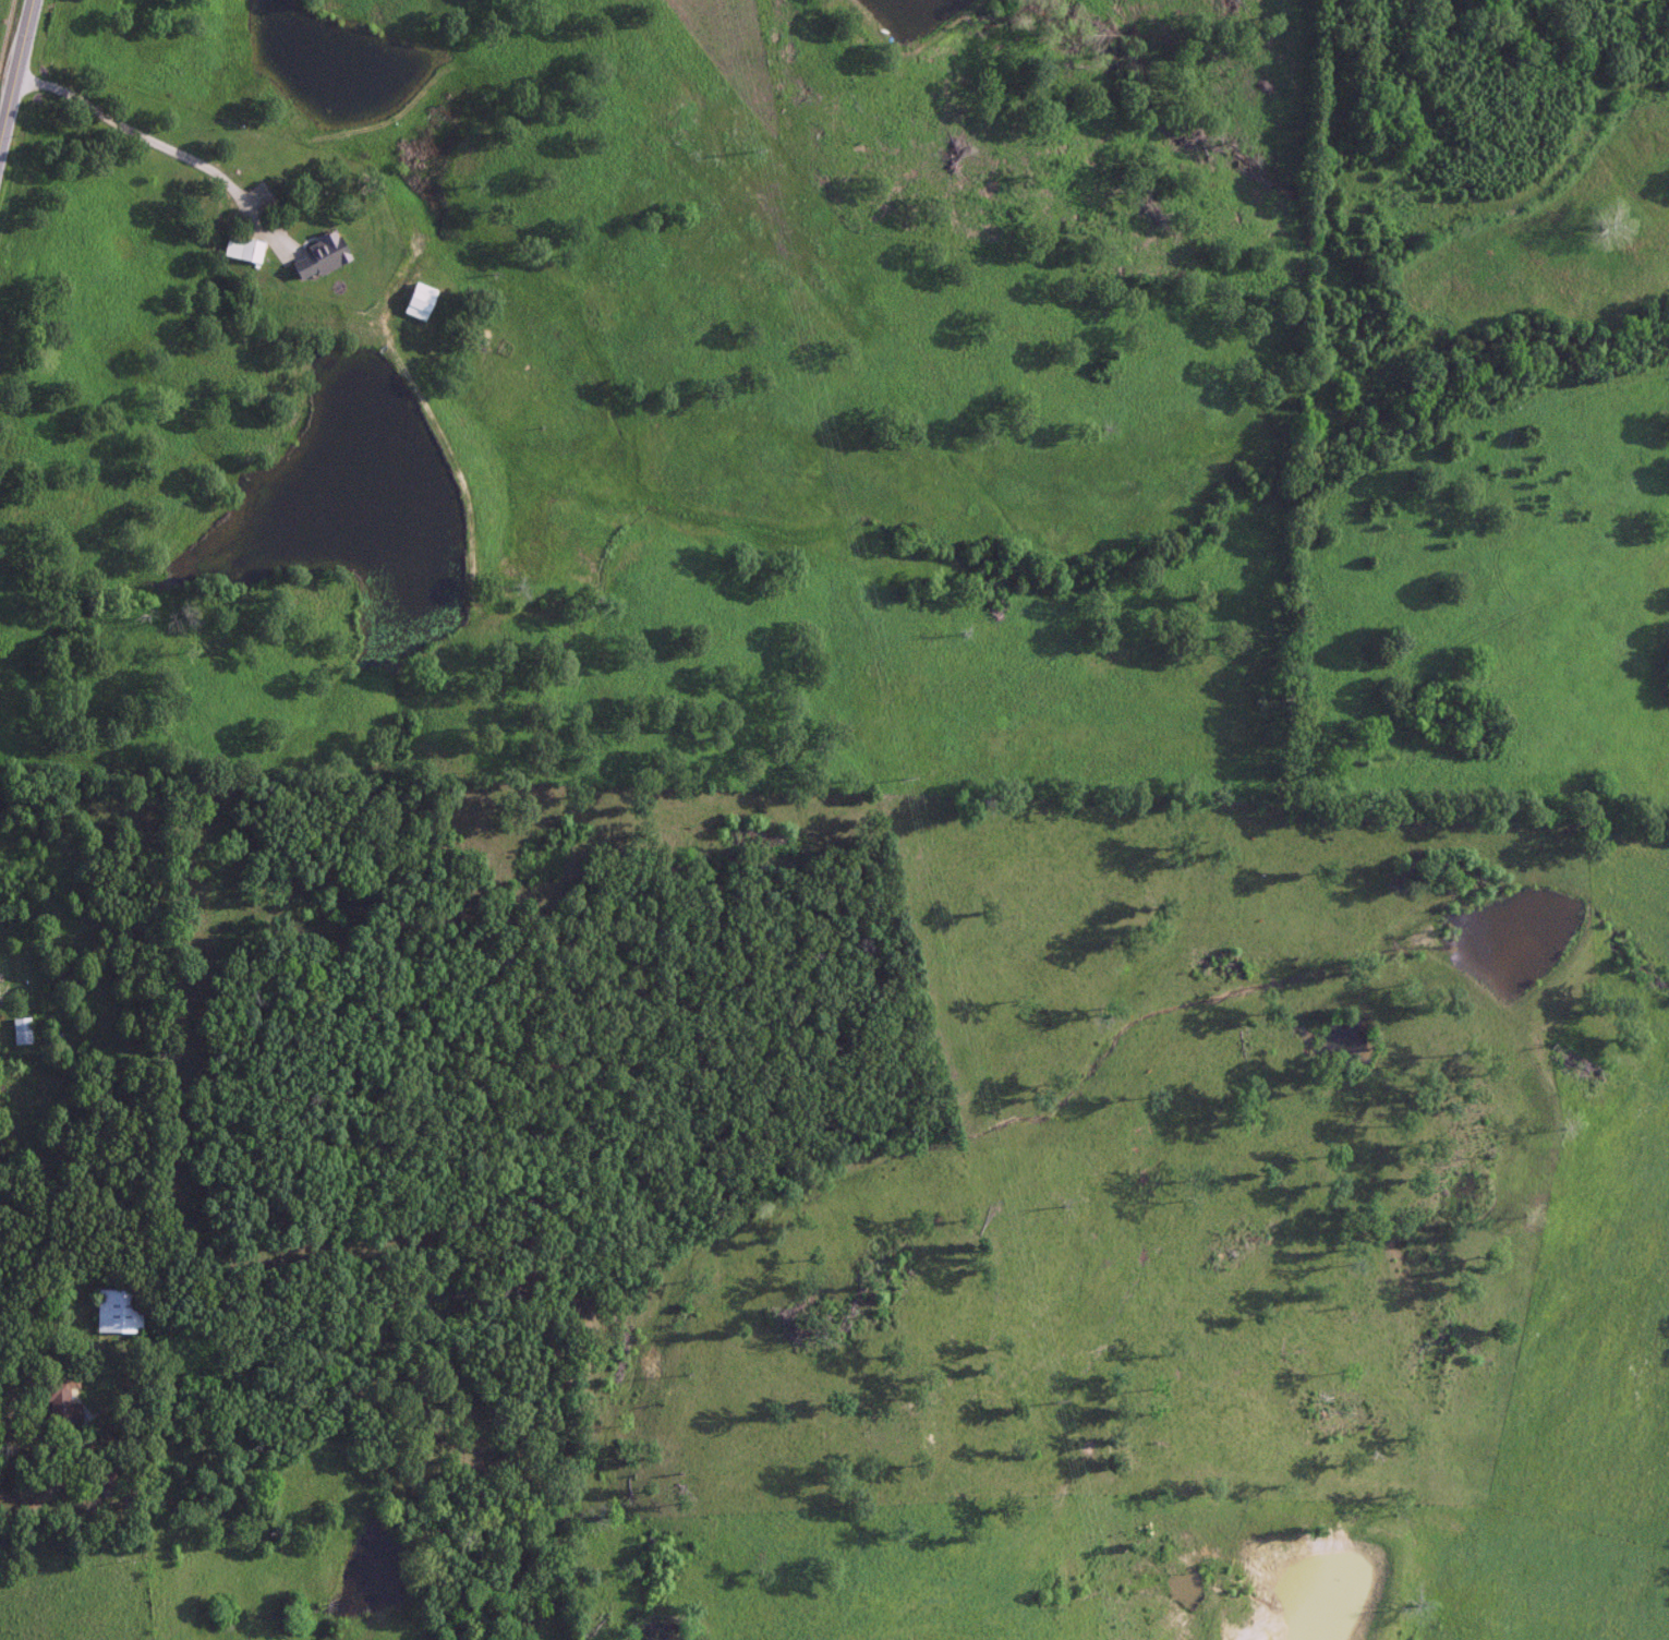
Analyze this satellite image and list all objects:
road: (10, 45)
power tower: (751, 160)
building: (249, 250)
building: (318, 255)
building: (419, 300)
power tower: (895, 780)
building: (113, 1311)
building: (55, 1403)
power tower: (1049, 1403)
building: (95, 1488)

